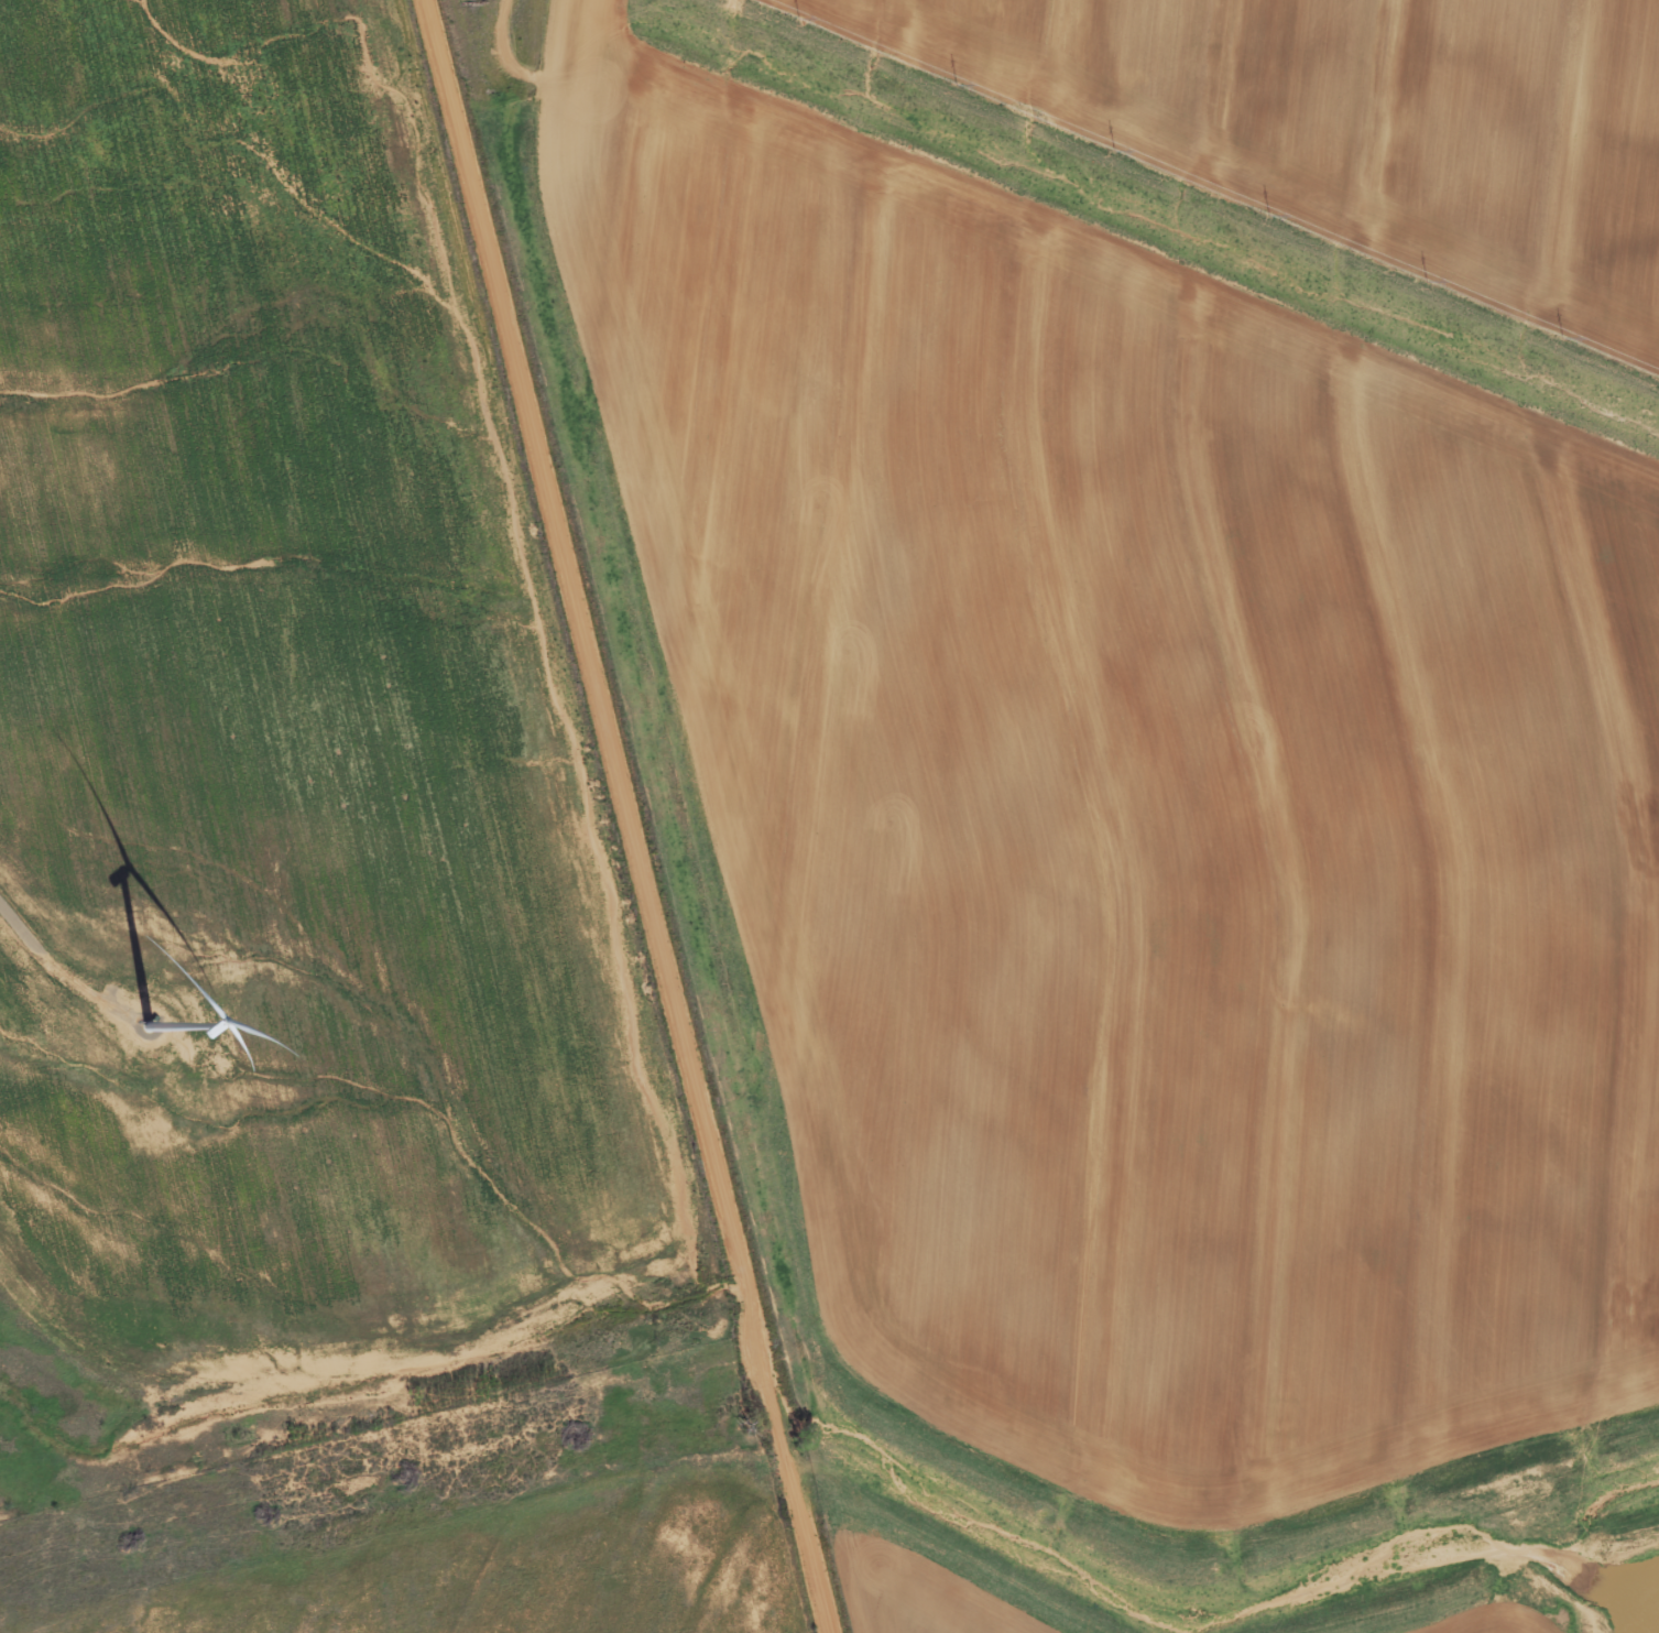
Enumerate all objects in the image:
road: (627, 816)
wind turbine: (140, 1019)

